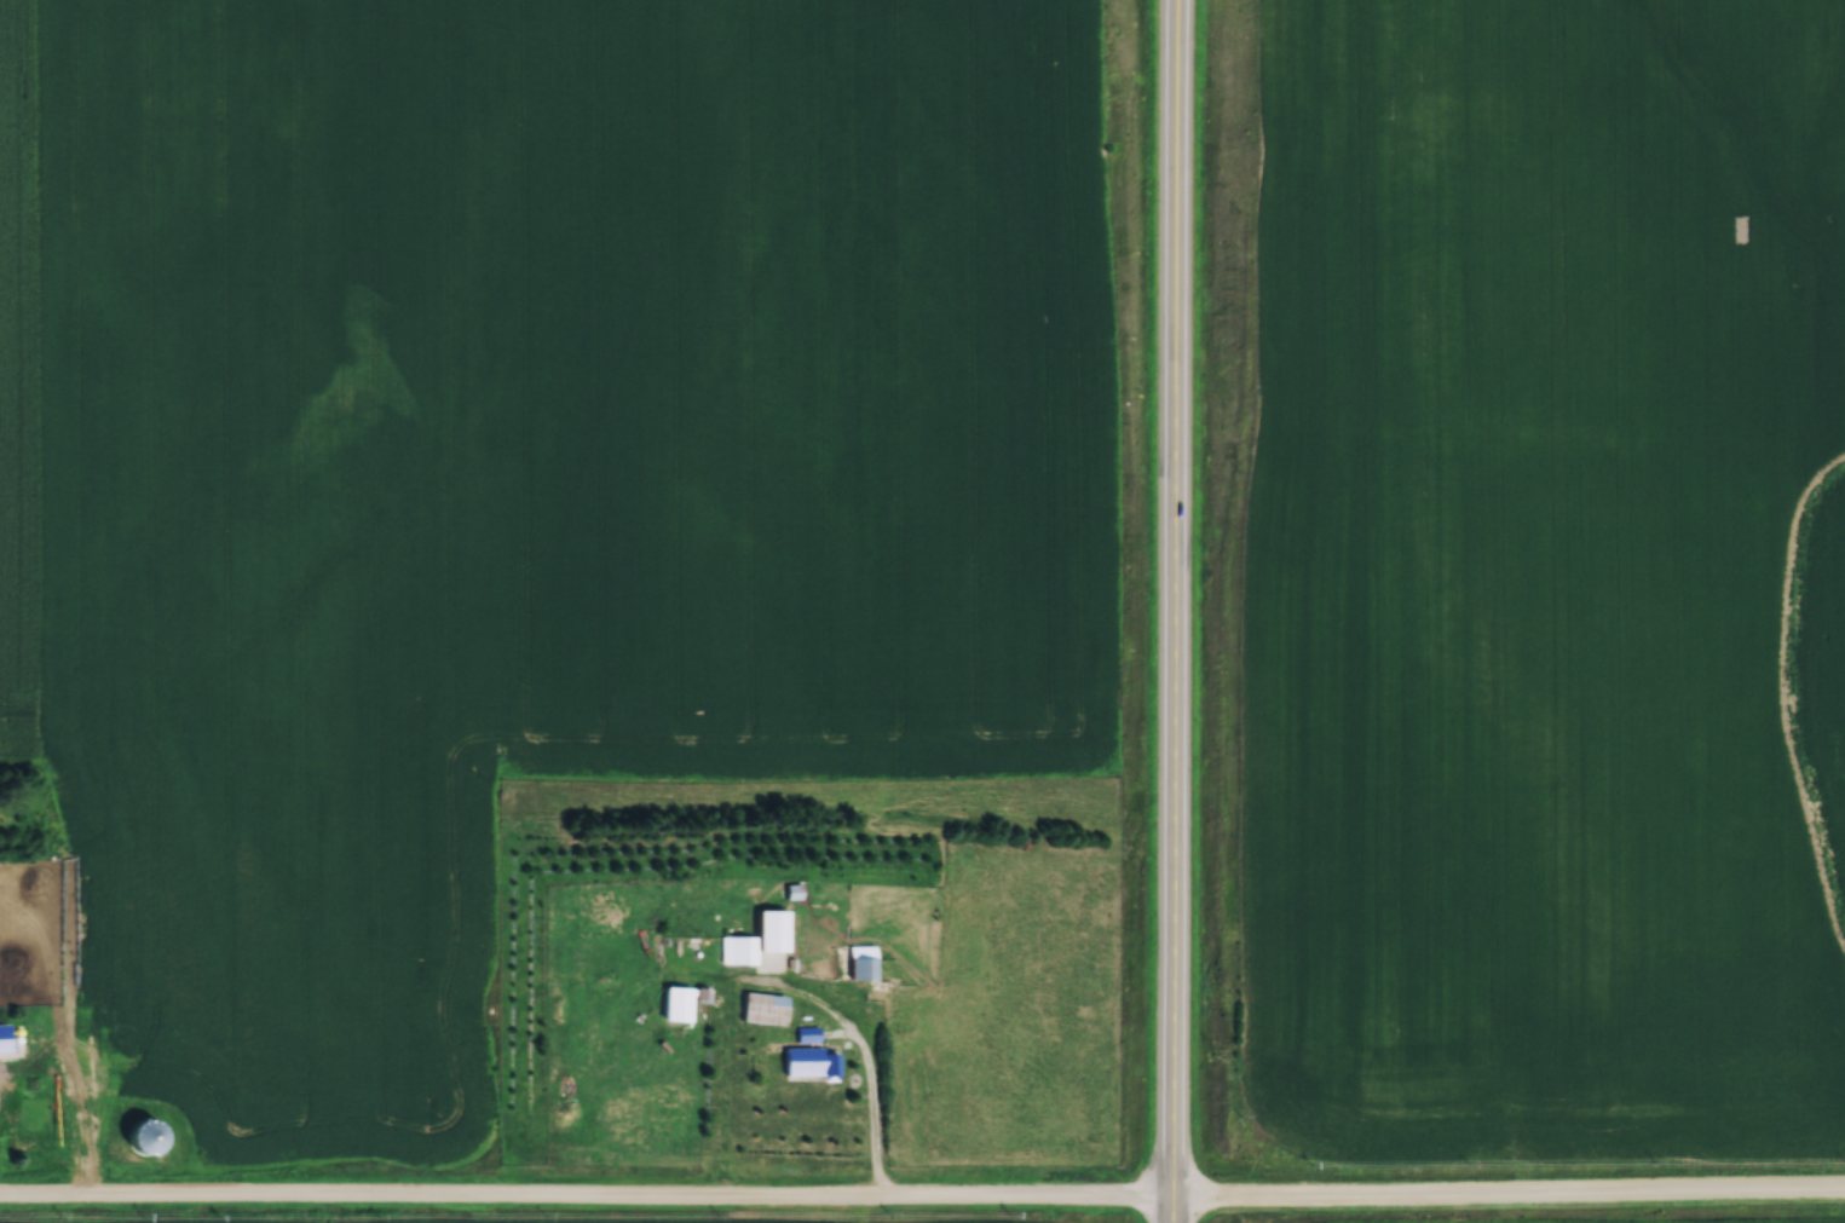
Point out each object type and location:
road: (1176, 611)
building: (768, 930)
building: (855, 962)
building: (760, 1008)
building: (805, 1034)
building: (10, 1040)
building: (808, 1062)
road: (875, 1127)
road: (922, 1192)

